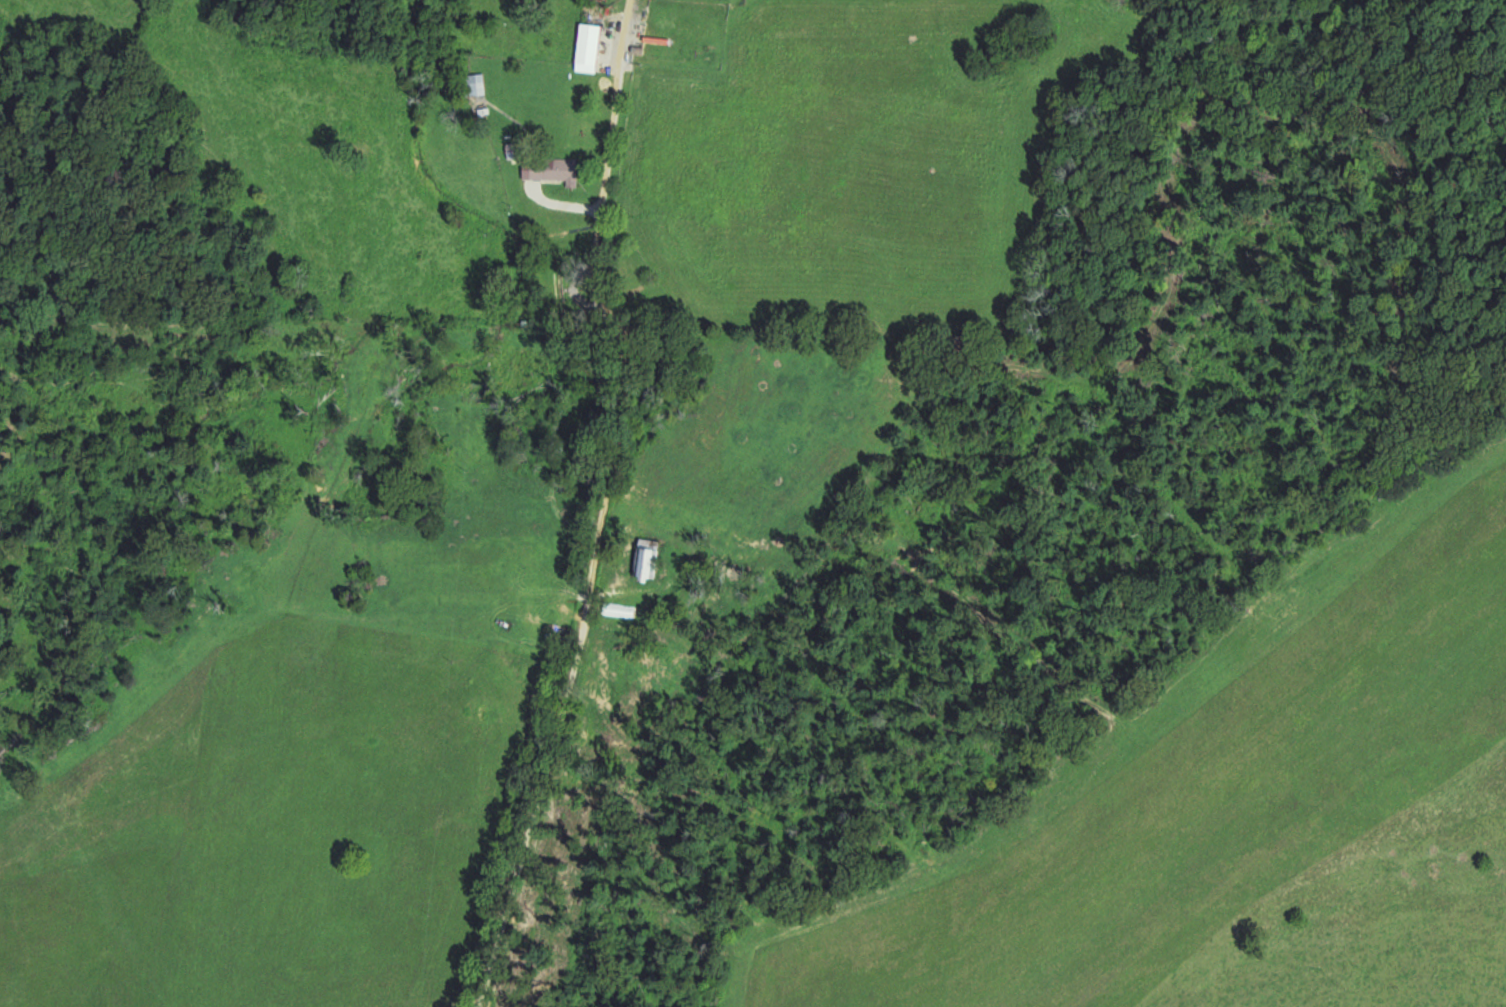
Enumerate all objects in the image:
building: (592, 47)
building: (554, 169)
building: (556, 292)
road: (587, 510)
building: (650, 558)

